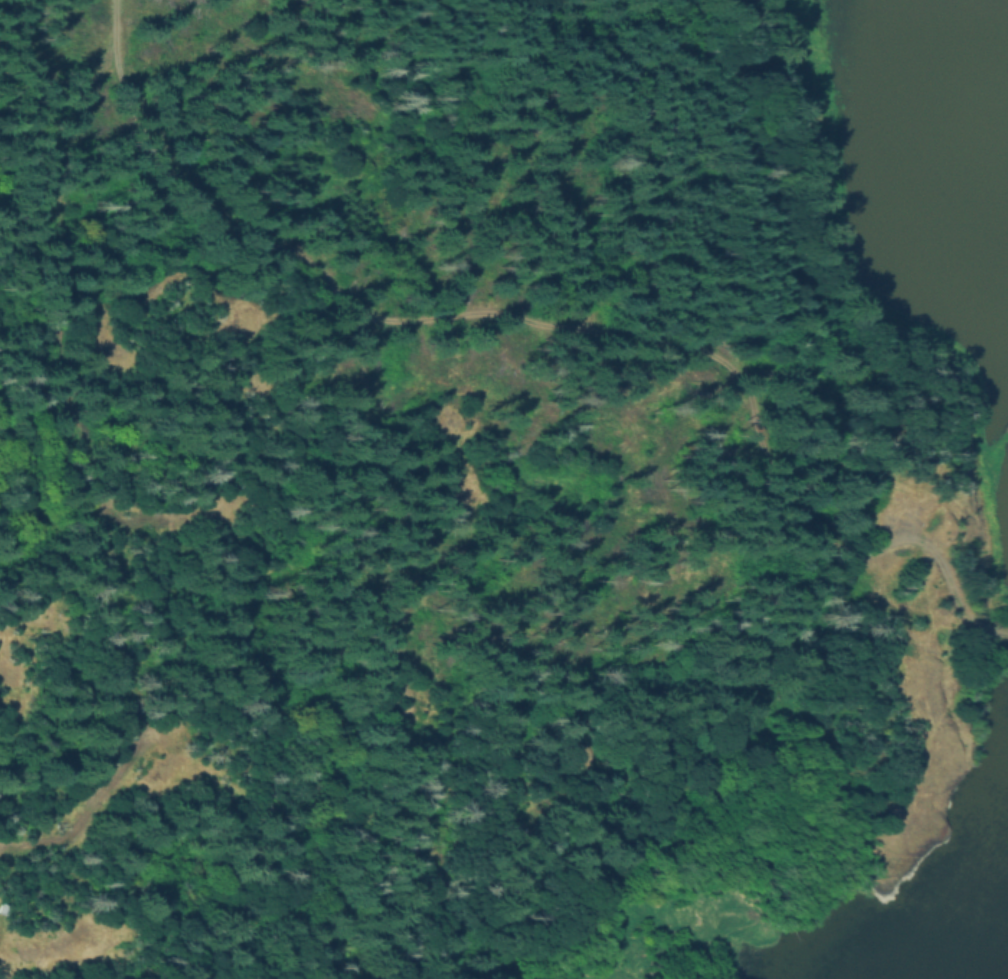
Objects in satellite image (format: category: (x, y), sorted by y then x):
road: (422, 306)
road: (735, 372)

